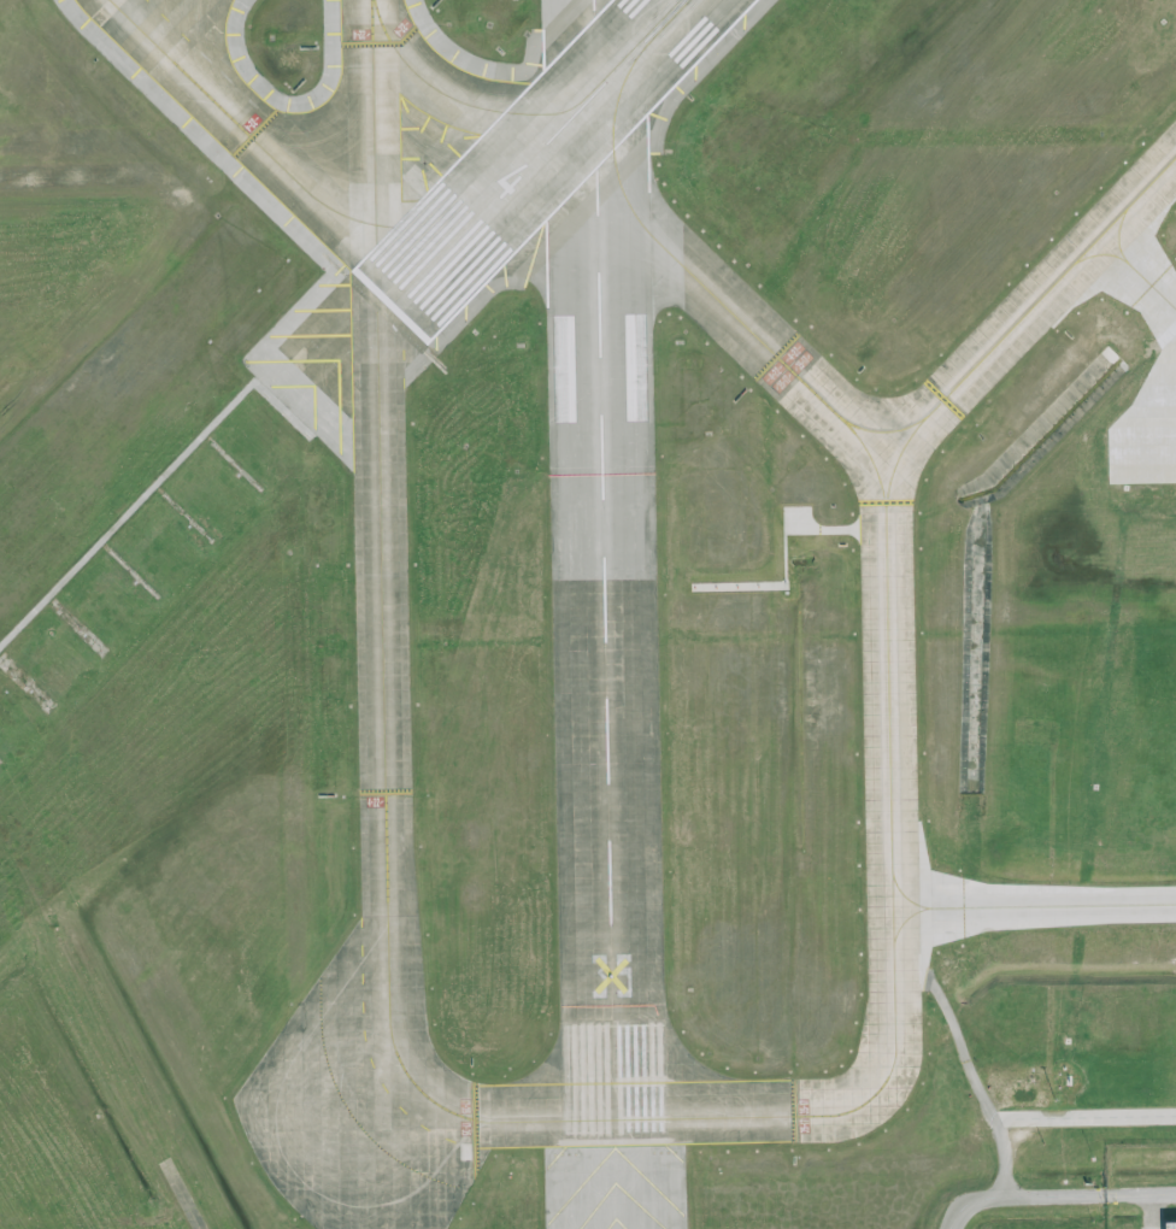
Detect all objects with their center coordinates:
airport taxiway: (646, 41)
airport taxiway: (417, 73)
airport taxiway: (586, 95)
airport taxiway: (241, 125)
airport taxiway: (612, 149)
airport runway: (535, 154)
airport taxiway: (441, 217)
airport taxiway: (784, 364)
airport taxiway: (871, 460)
road: (129, 513)
airport runway: (602, 572)
airport: (588, 614)
airport taxiway: (382, 623)
airport taxiway: (889, 733)
road: (1034, 911)
road: (969, 1066)
road: (1141, 1193)
road: (1018, 1195)
road: (192, 1200)
road: (1152, 1211)
building: (1170, 1225)

